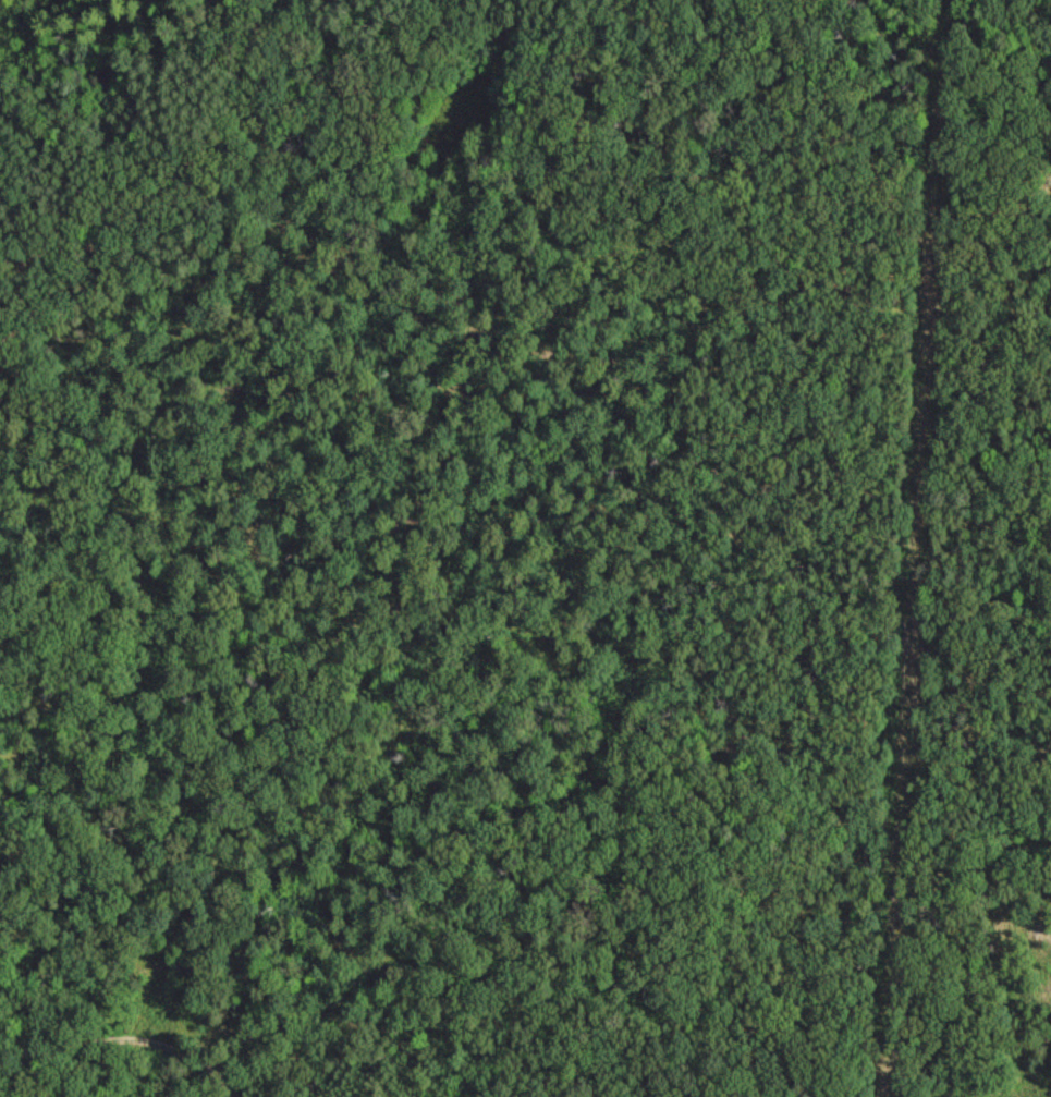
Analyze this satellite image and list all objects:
road: (162, 175)
road: (124, 1038)

